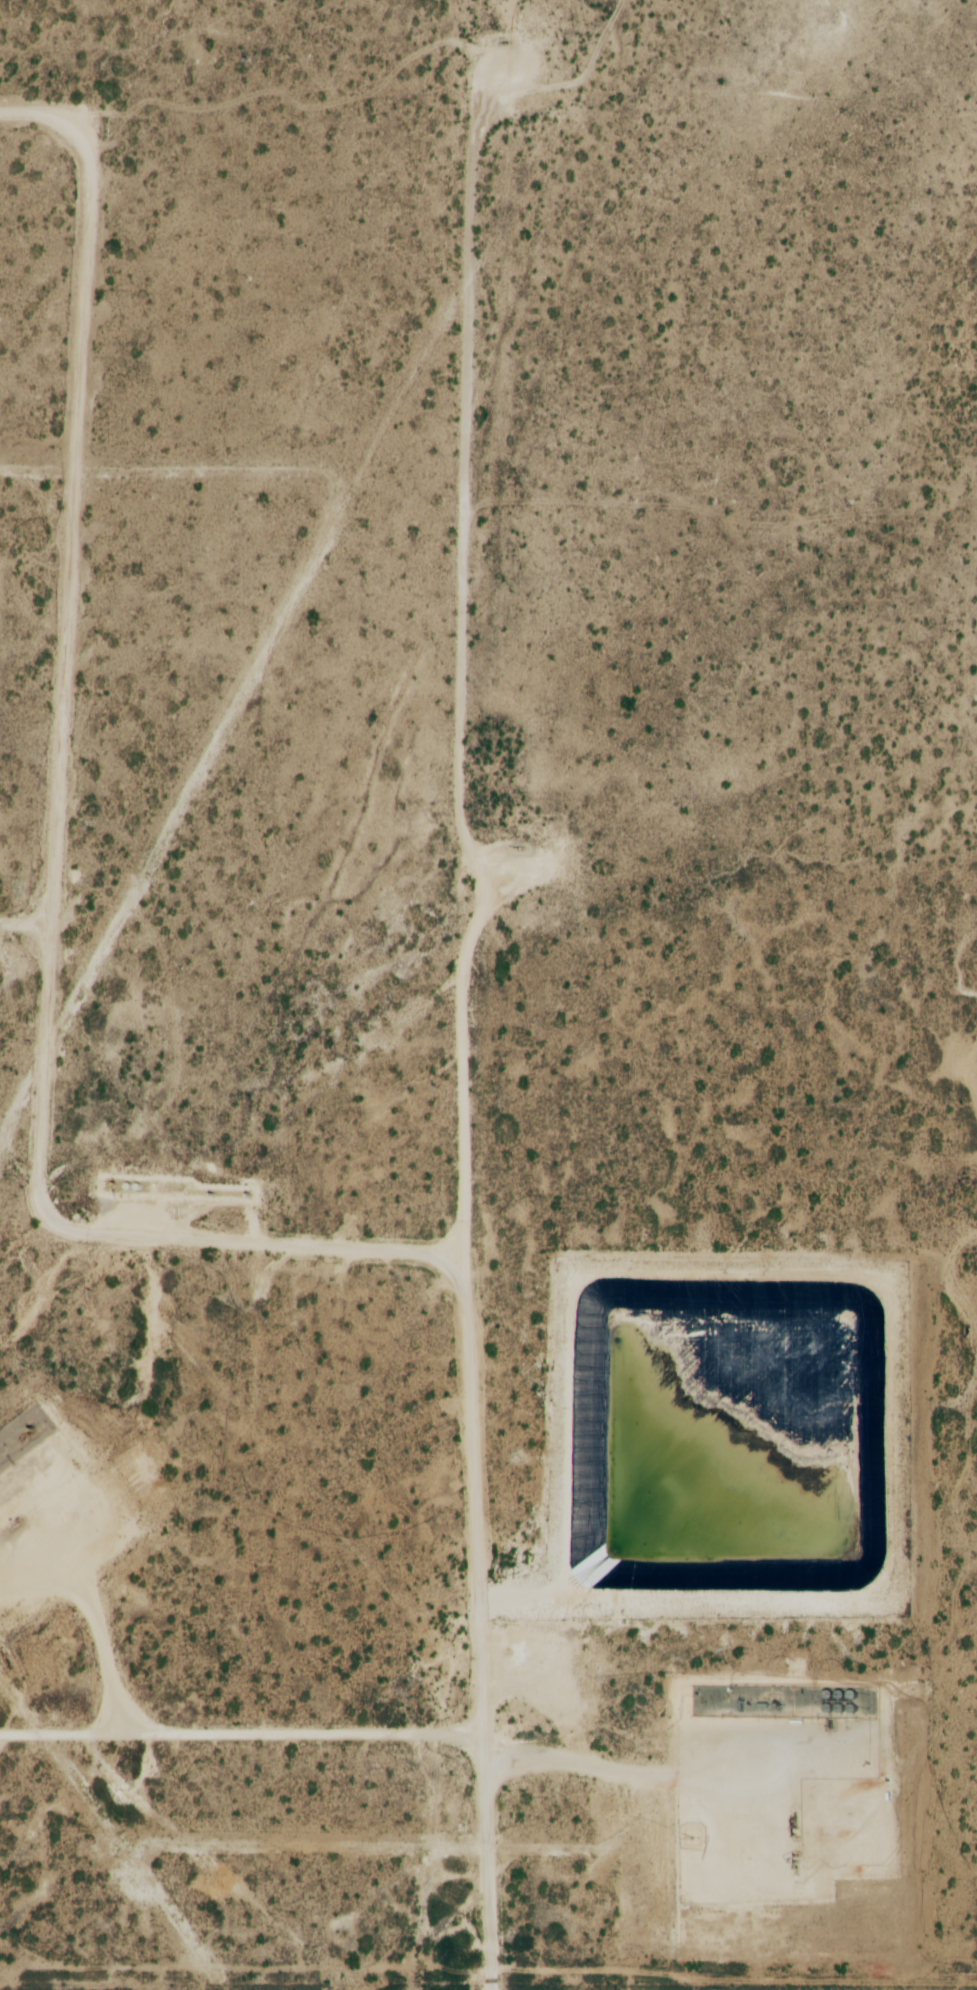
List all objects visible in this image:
road: (408, 683)
road: (421, 1414)
road: (214, 1720)

